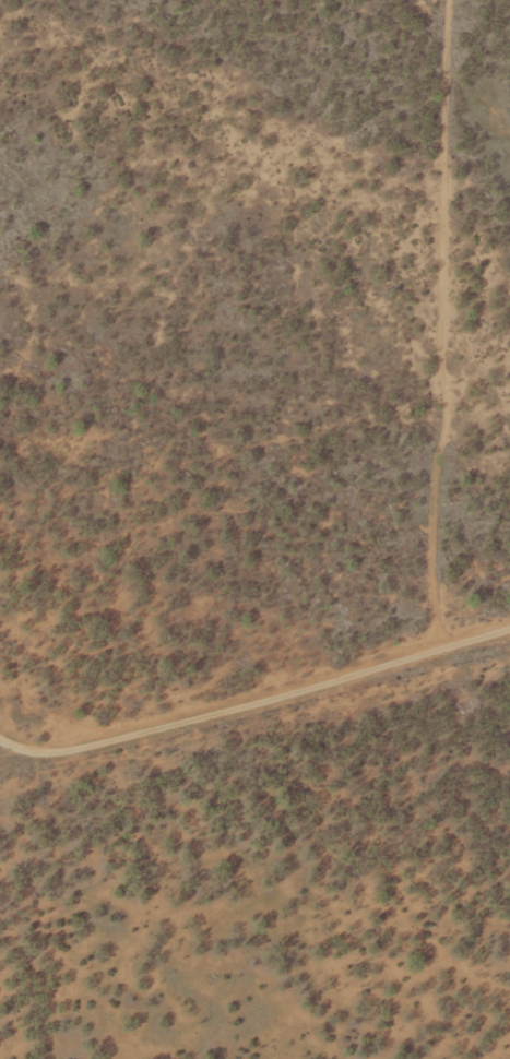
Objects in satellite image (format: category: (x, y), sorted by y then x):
road: (256, 714)

